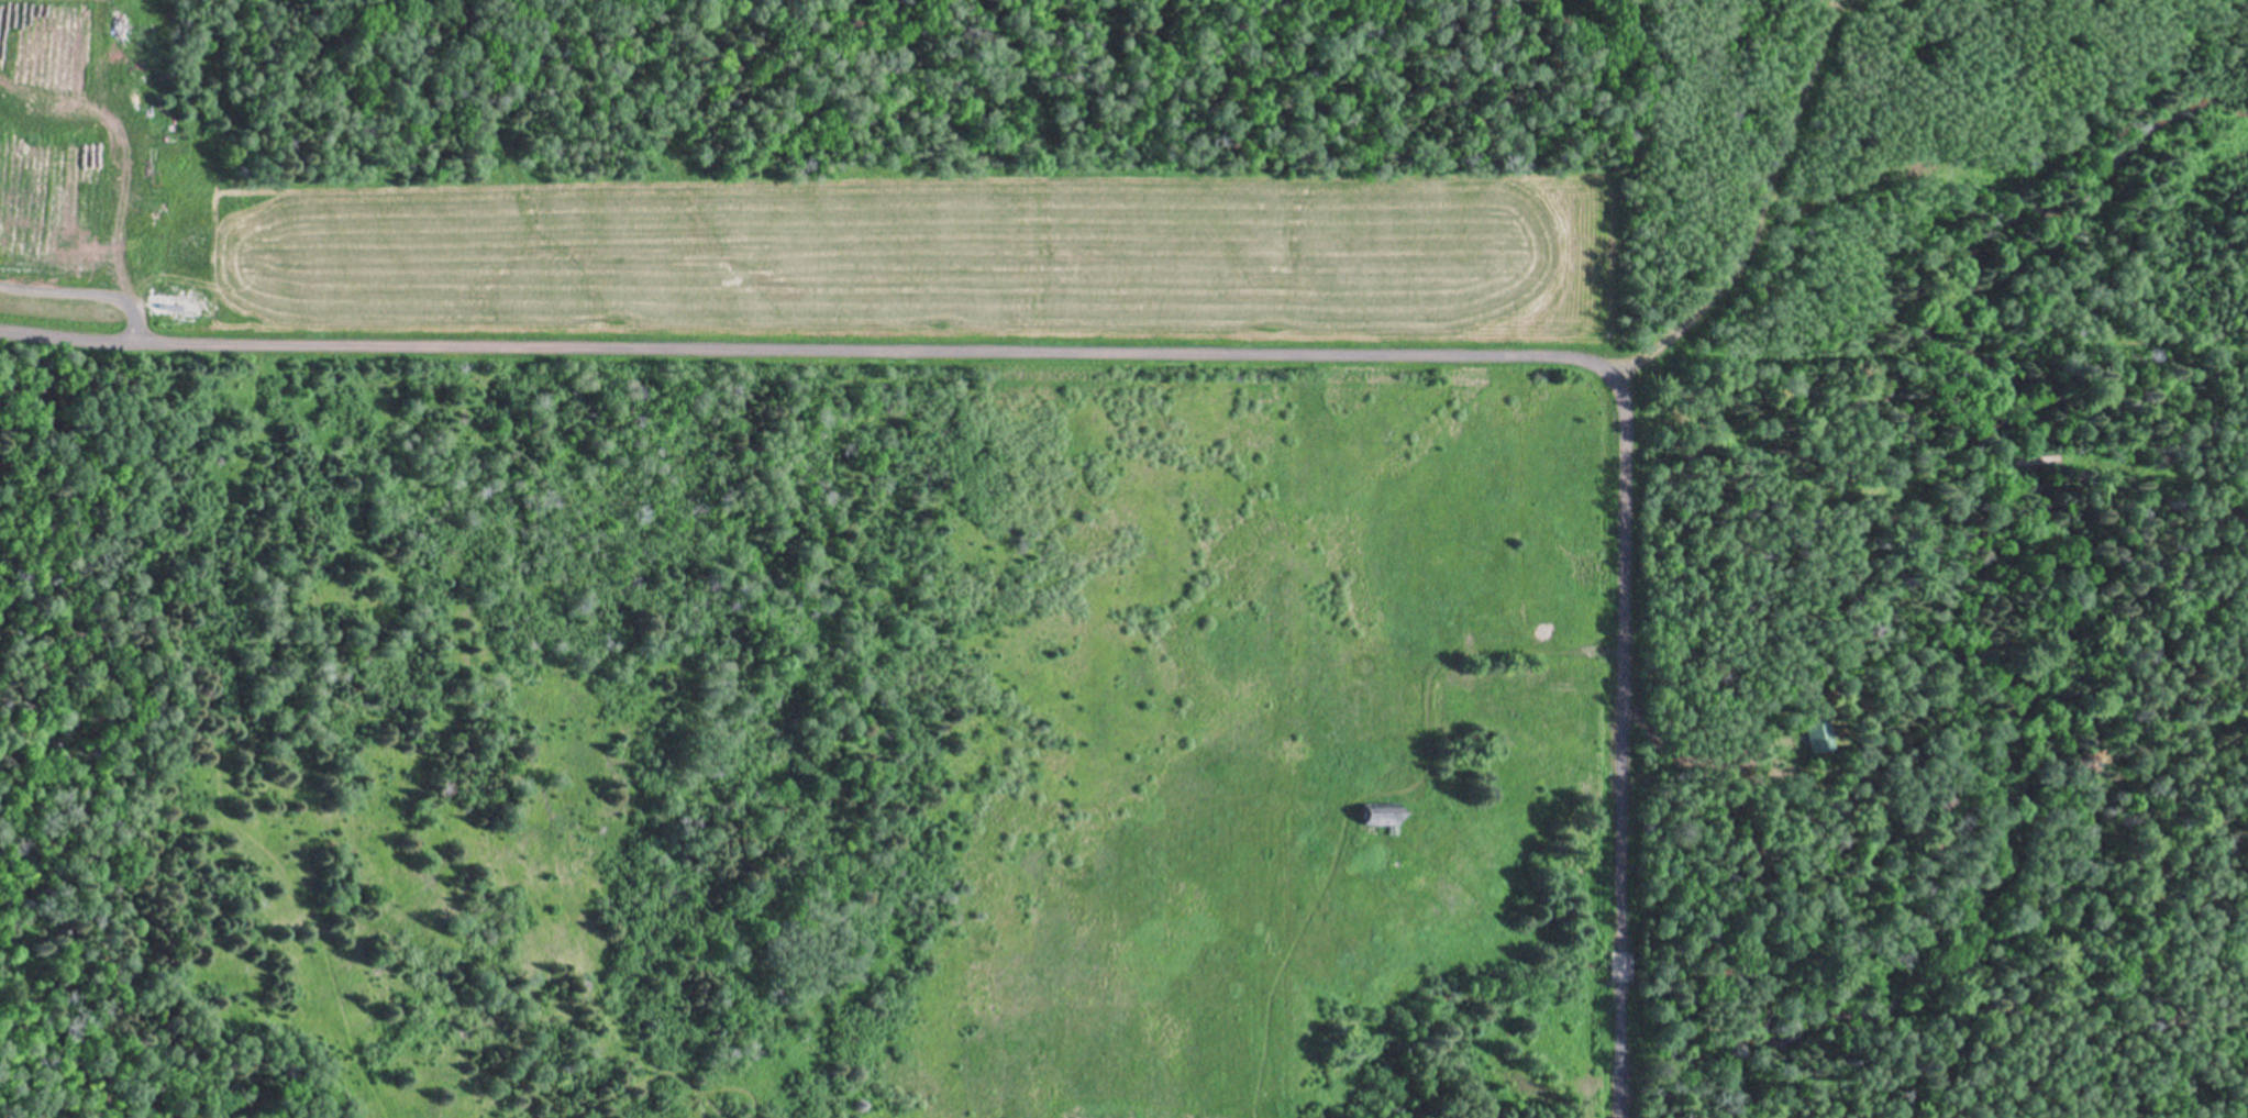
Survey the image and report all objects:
road: (811, 348)
building: (1817, 732)
road: (1623, 746)
building: (1388, 816)

